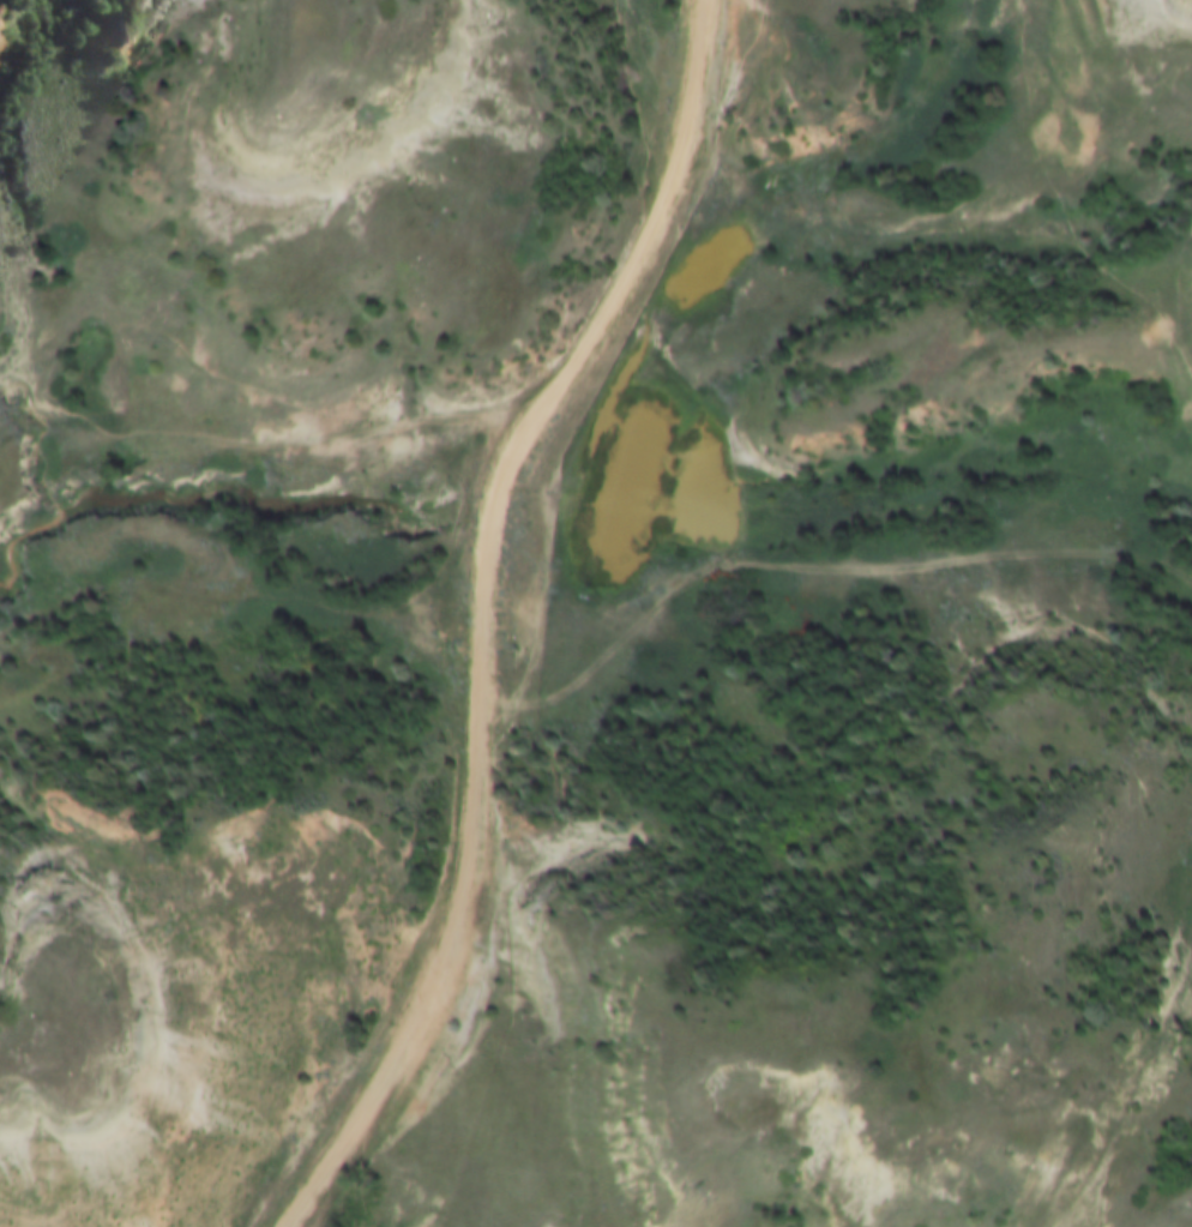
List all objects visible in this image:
road: (19, 303)
road: (496, 415)

